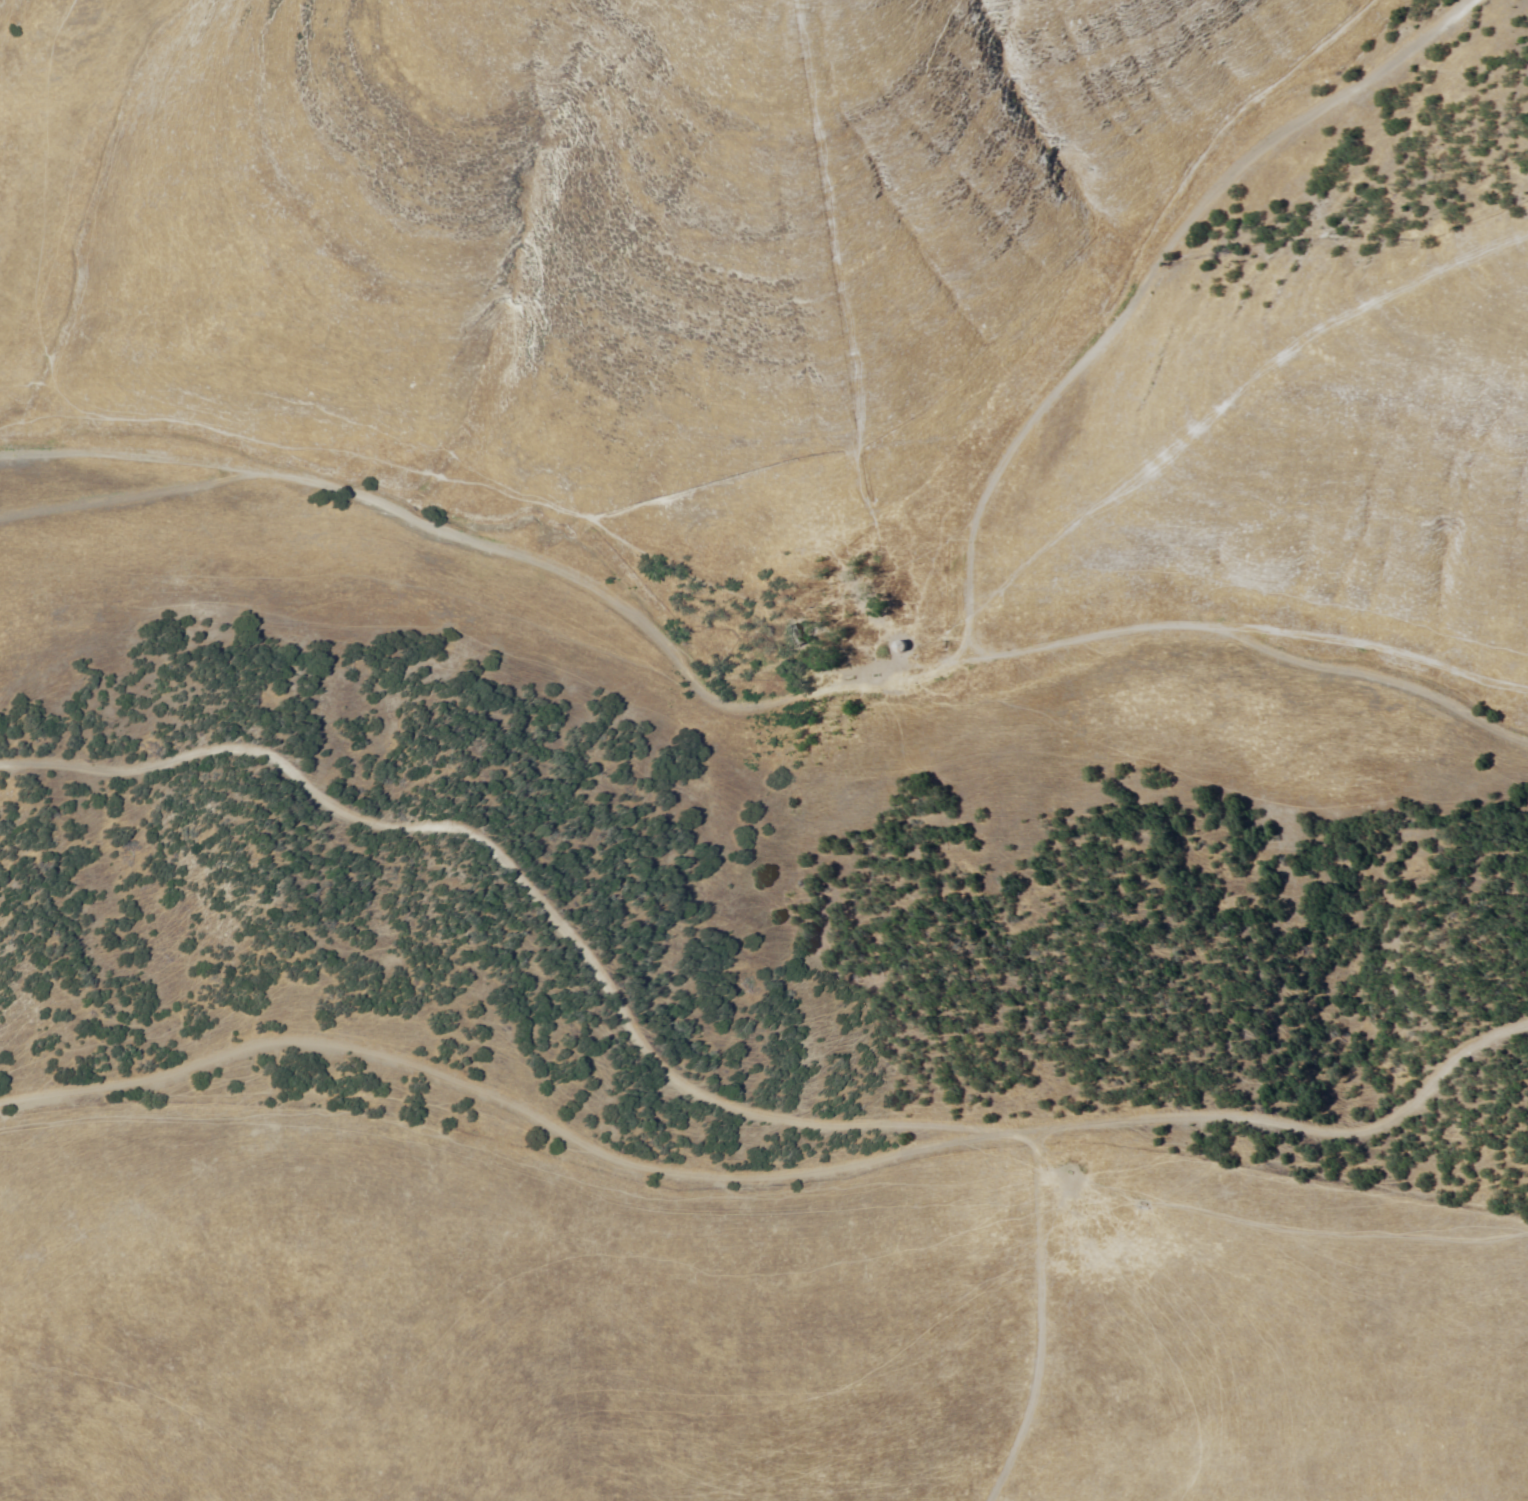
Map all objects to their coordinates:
road: (1174, 292)
road: (749, 727)
road: (715, 1096)
road: (442, 1099)

